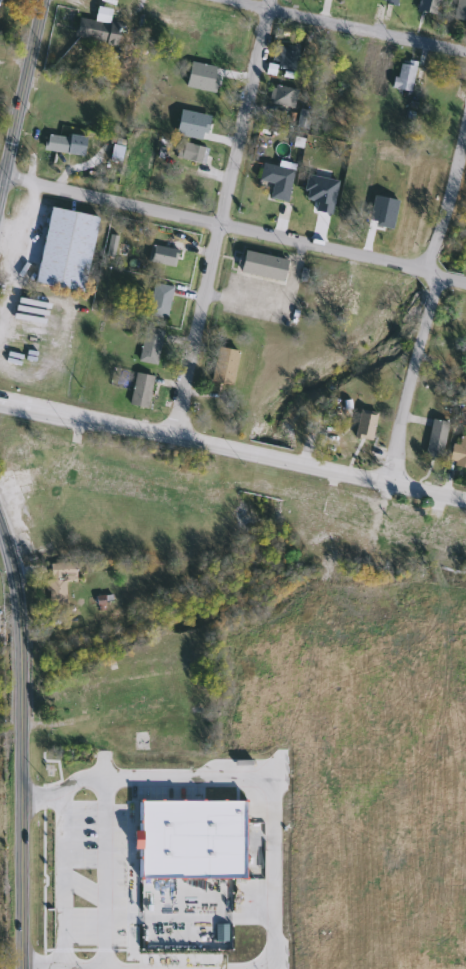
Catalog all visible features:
building: (11, 0)
building: (388, 1)
building: (426, 6)
building: (459, 10)
road: (343, 25)
building: (98, 28)
building: (207, 28)
building: (287, 57)
building: (403, 77)
road: (20, 95)
building: (282, 96)
building: (57, 145)
building: (189, 150)
building: (276, 181)
road: (447, 197)
road: (219, 217)
road: (233, 228)
building: (65, 250)
building: (162, 256)
building: (262, 266)
building: (326, 294)
building: (159, 301)
building: (149, 345)
building: (224, 366)
building: (140, 390)
road: (402, 410)
building: (364, 424)
building: (435, 439)
road: (233, 450)
building: (458, 453)
road: (33, 475)
building: (331, 505)
building: (408, 523)
building: (445, 536)
building: (58, 578)
building: (90, 691)
building: (143, 740)
road: (21, 744)
road: (234, 777)
building: (195, 835)
road: (98, 873)
road: (56, 882)
road: (77, 886)

